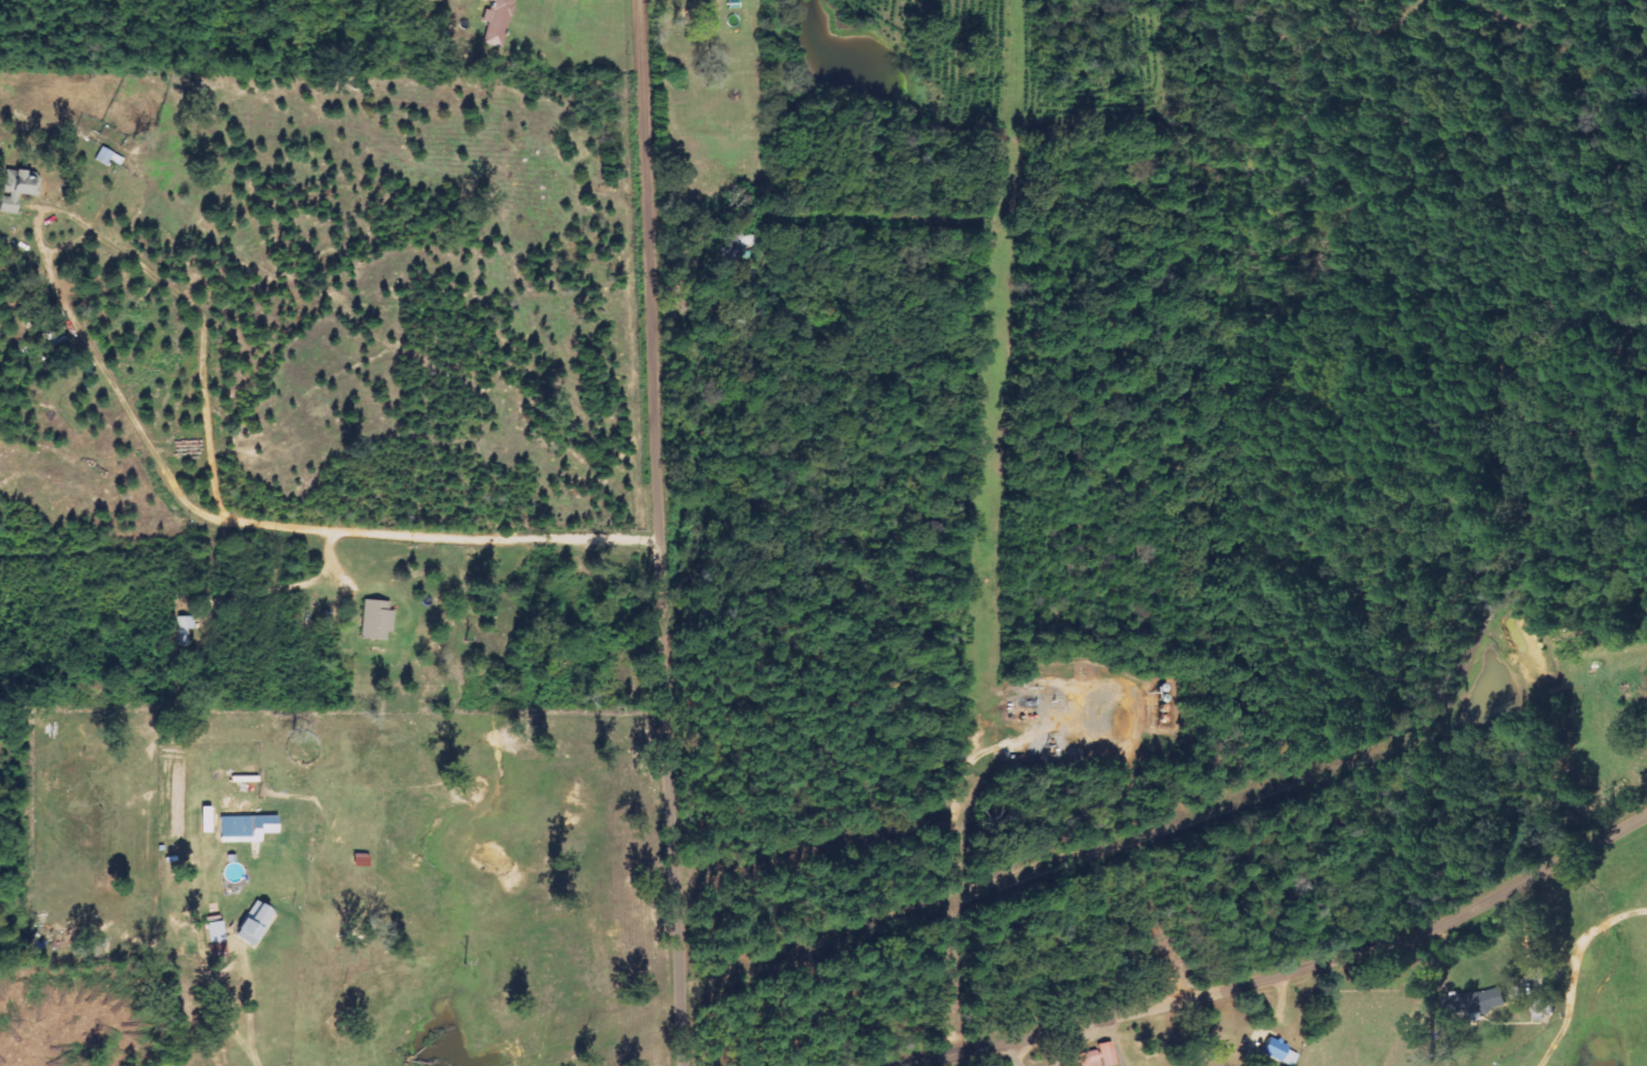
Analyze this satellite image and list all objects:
building: (494, 22)
building: (105, 157)
building: (14, 188)
building: (734, 247)
road: (658, 532)
building: (374, 621)
road: (1617, 622)
building: (181, 630)
building: (202, 826)
building: (258, 828)
building: (251, 923)
building: (212, 932)
road: (1365, 977)
building: (1473, 1003)
building: (1543, 1009)
building: (1278, 1053)
building: (1097, 1056)

